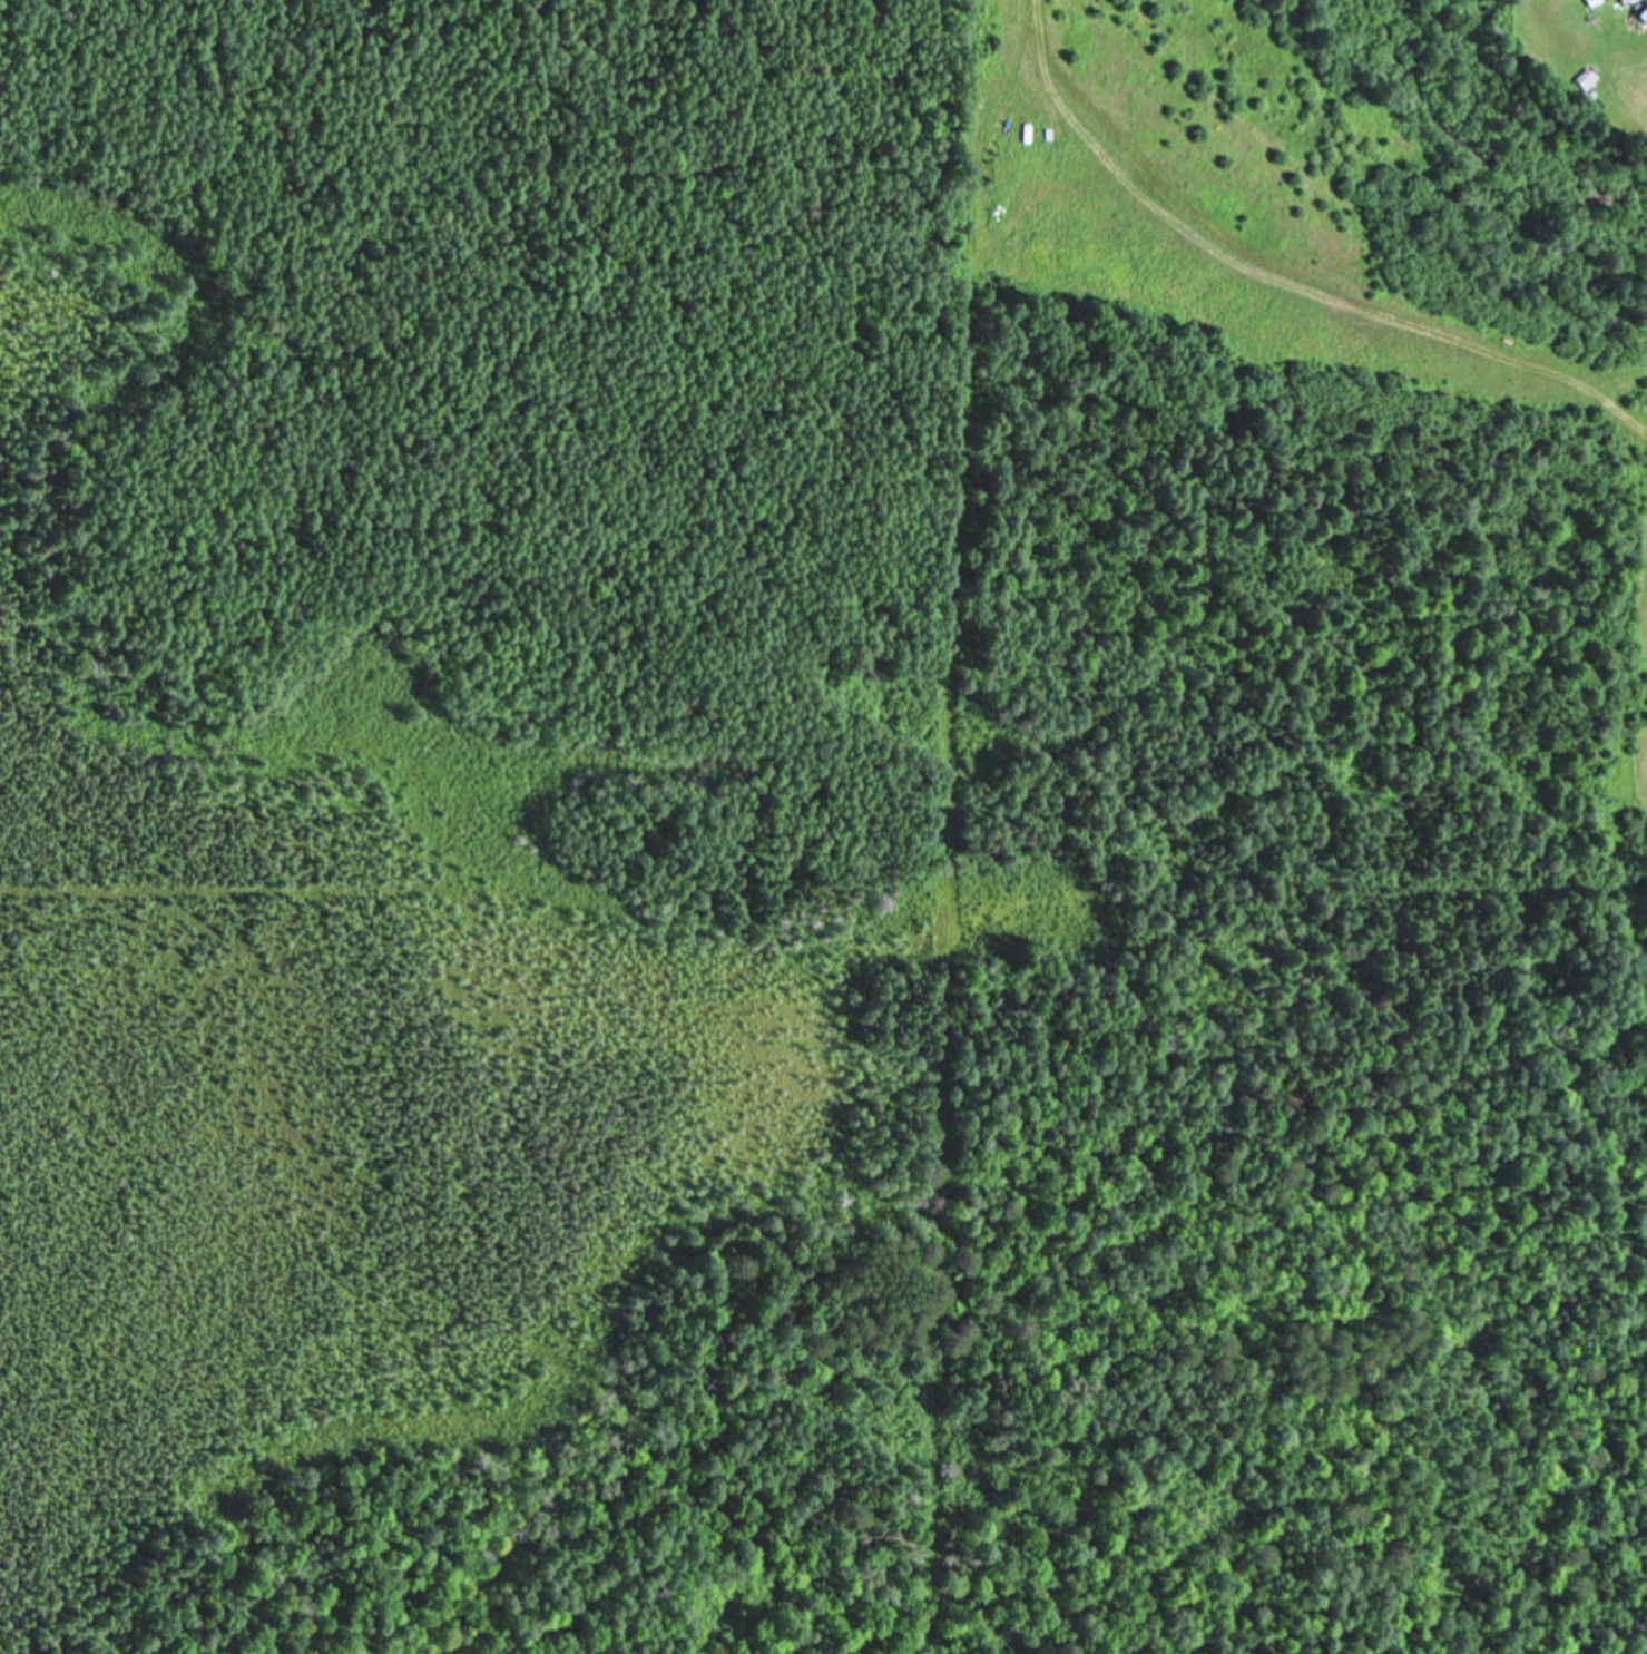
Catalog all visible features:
building: (1630, 0)
building: (1591, 1)
building: (1644, 13)

